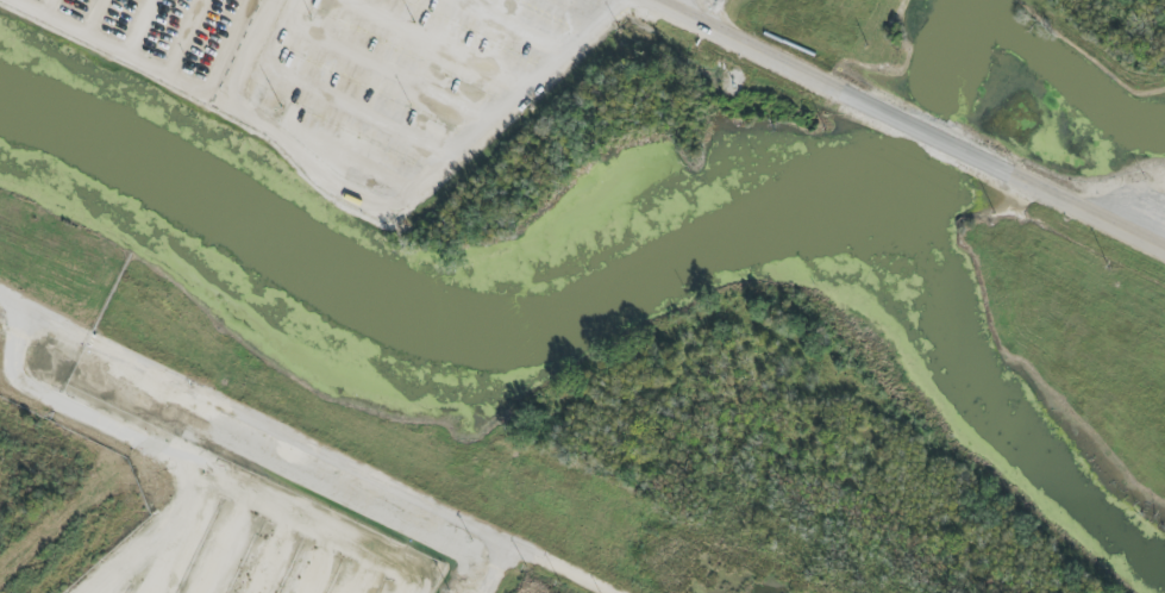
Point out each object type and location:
road: (48, 4)
road: (684, 6)
road: (697, 6)
road: (90, 13)
road: (138, 24)
road: (182, 33)
road: (158, 63)
road: (932, 127)
road: (311, 441)
road: (169, 458)
road: (493, 564)

